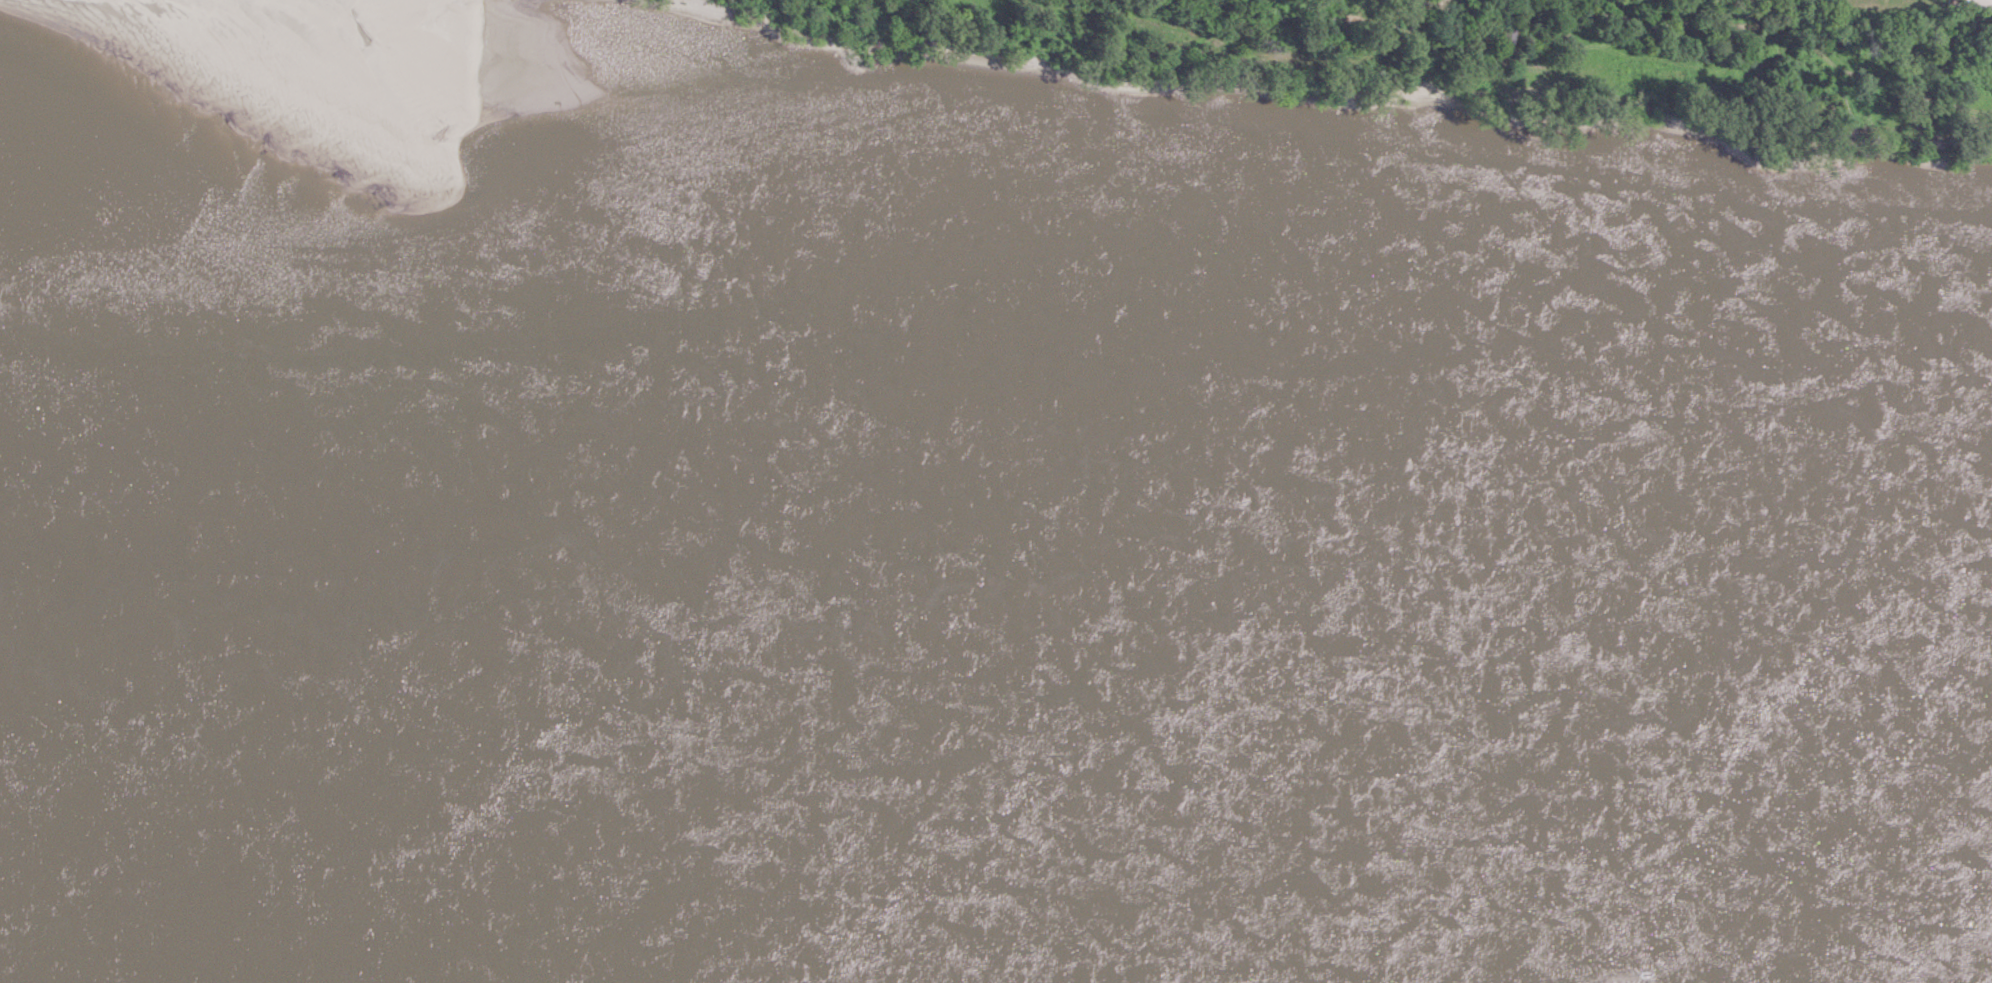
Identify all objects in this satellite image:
road: (1239, 39)
river: (1490, 829)
river: (530, 904)

